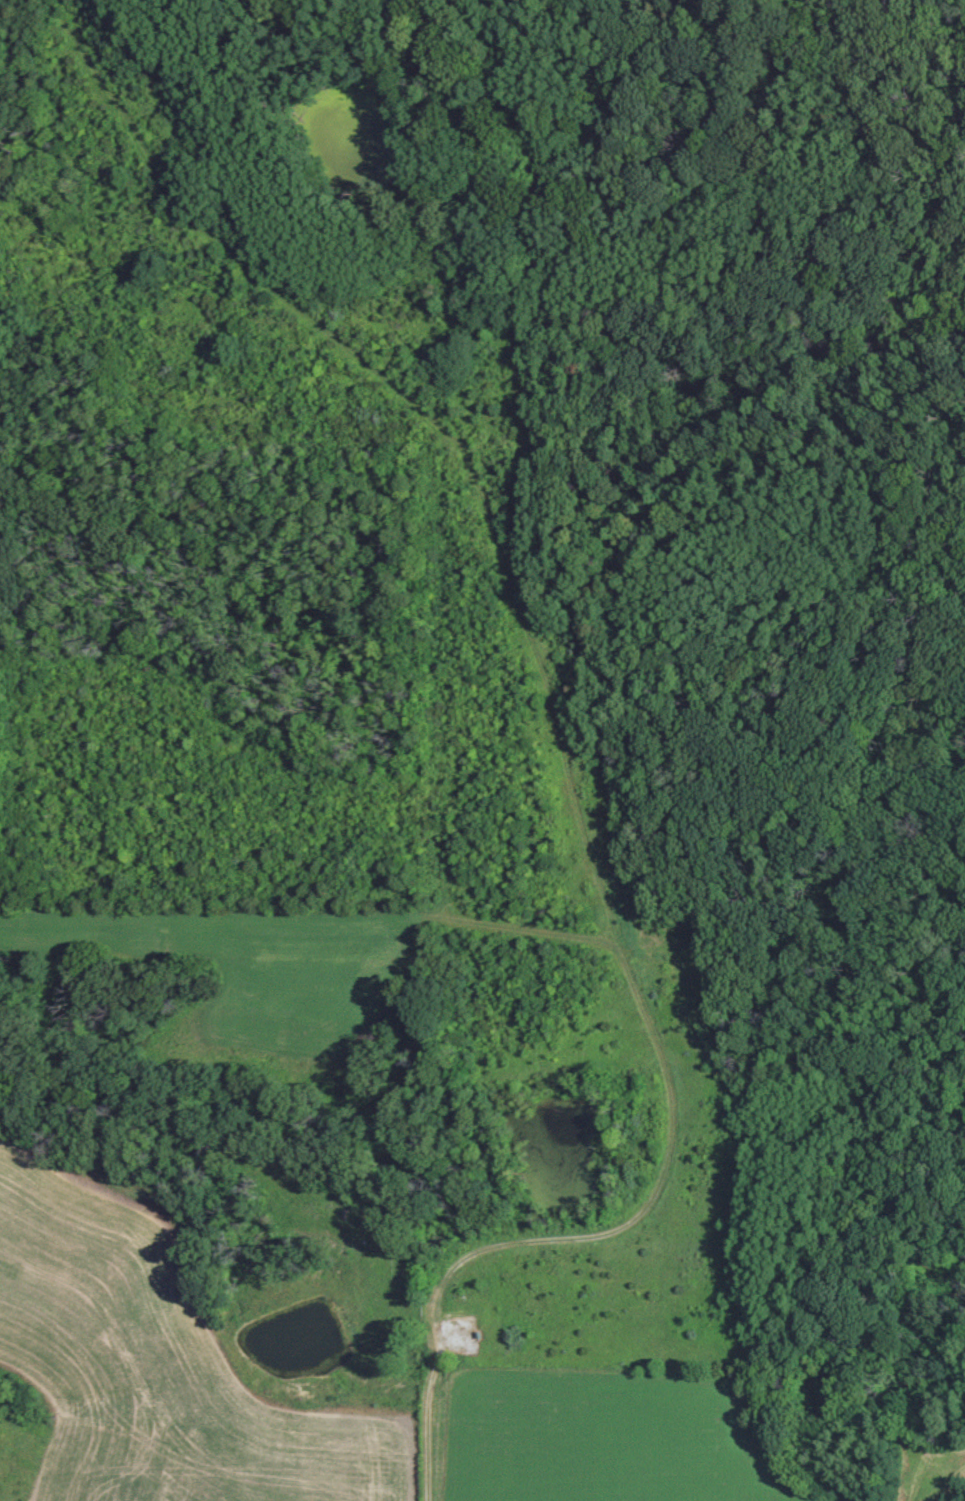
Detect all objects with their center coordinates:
road: (417, 752)
road: (608, 1261)

